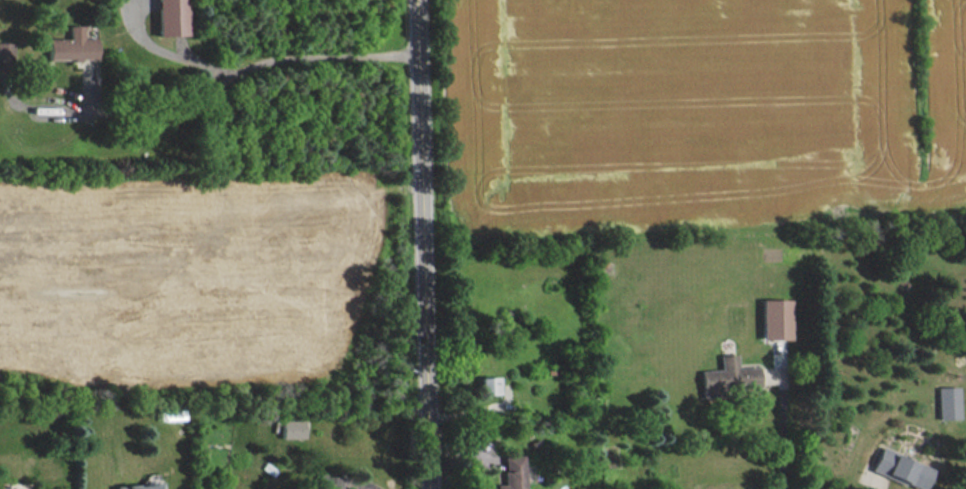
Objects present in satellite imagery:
building: (171, 17)
building: (72, 45)
building: (6, 49)
road: (240, 72)
road: (423, 244)
building: (775, 318)
building: (729, 377)
building: (489, 384)
building: (949, 402)
building: (171, 413)
road: (780, 421)
building: (292, 428)
building: (902, 468)
building: (513, 472)
building: (139, 485)
road: (880, 486)

